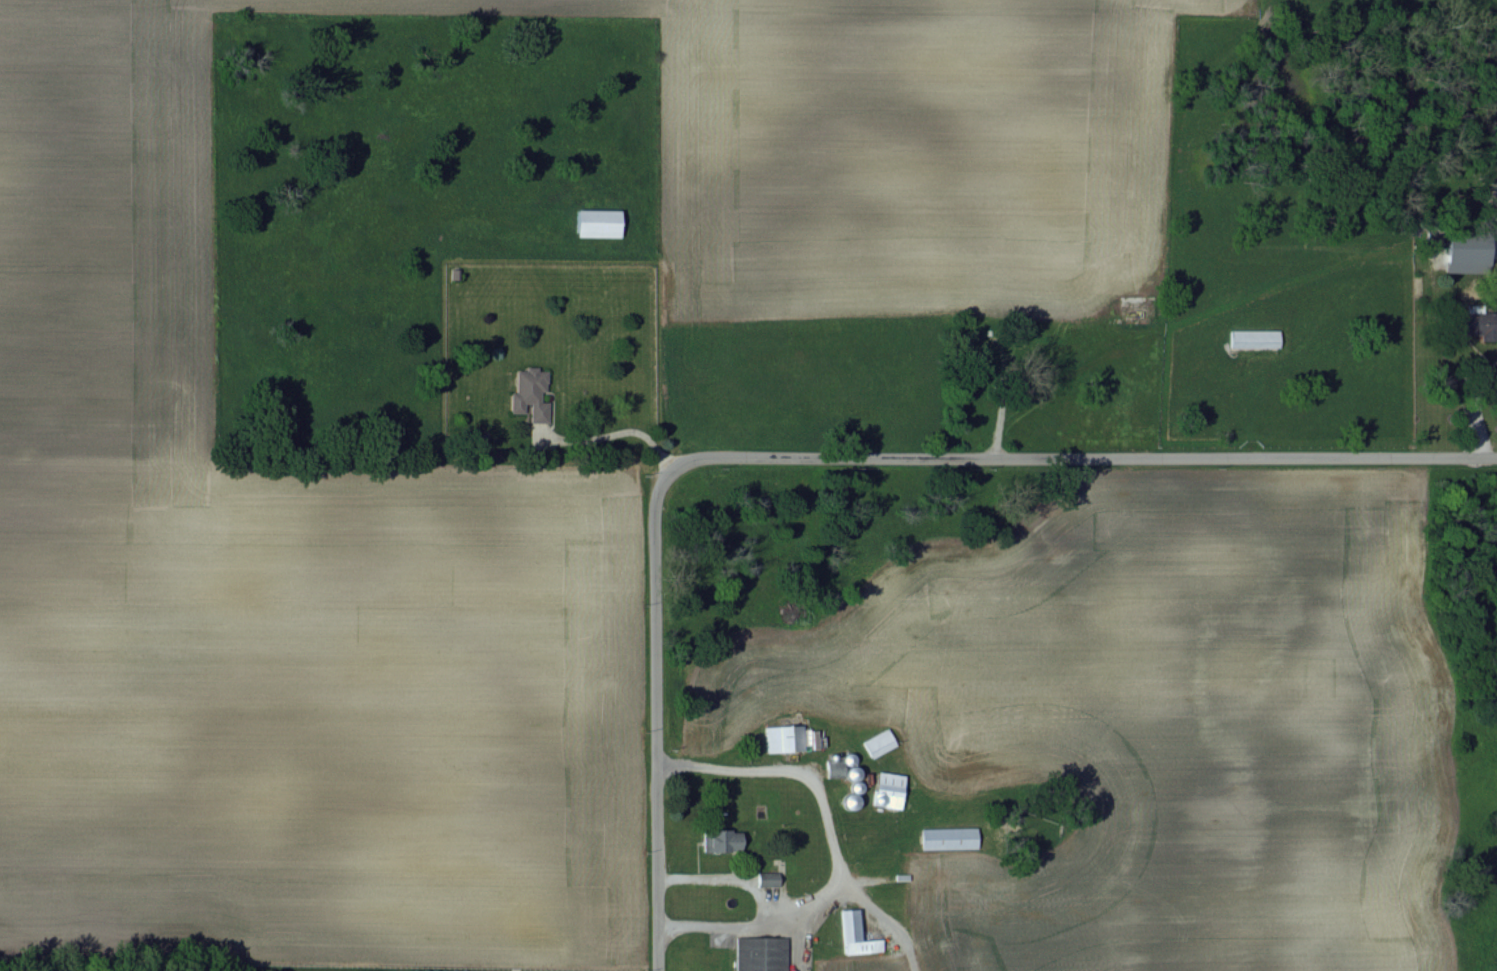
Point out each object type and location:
building: (597, 223)
building: (1467, 253)
building: (1476, 323)
building: (1254, 339)
building: (528, 389)
road: (1473, 407)
road: (1252, 409)
road: (611, 430)
road: (1092, 460)
road: (656, 709)
building: (784, 738)
building: (843, 771)
building: (887, 790)
building: (948, 838)
building: (721, 841)
road: (835, 852)
road: (717, 878)
building: (767, 879)
building: (856, 935)
building: (761, 954)

